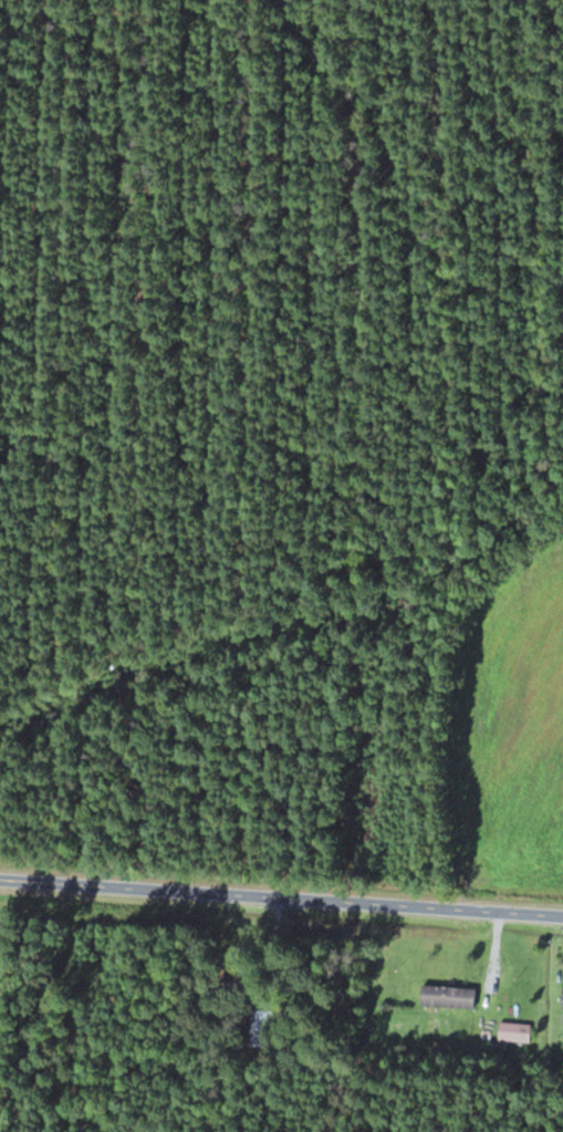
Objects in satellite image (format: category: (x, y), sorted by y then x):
road: (281, 902)
building: (448, 996)
building: (260, 1028)

